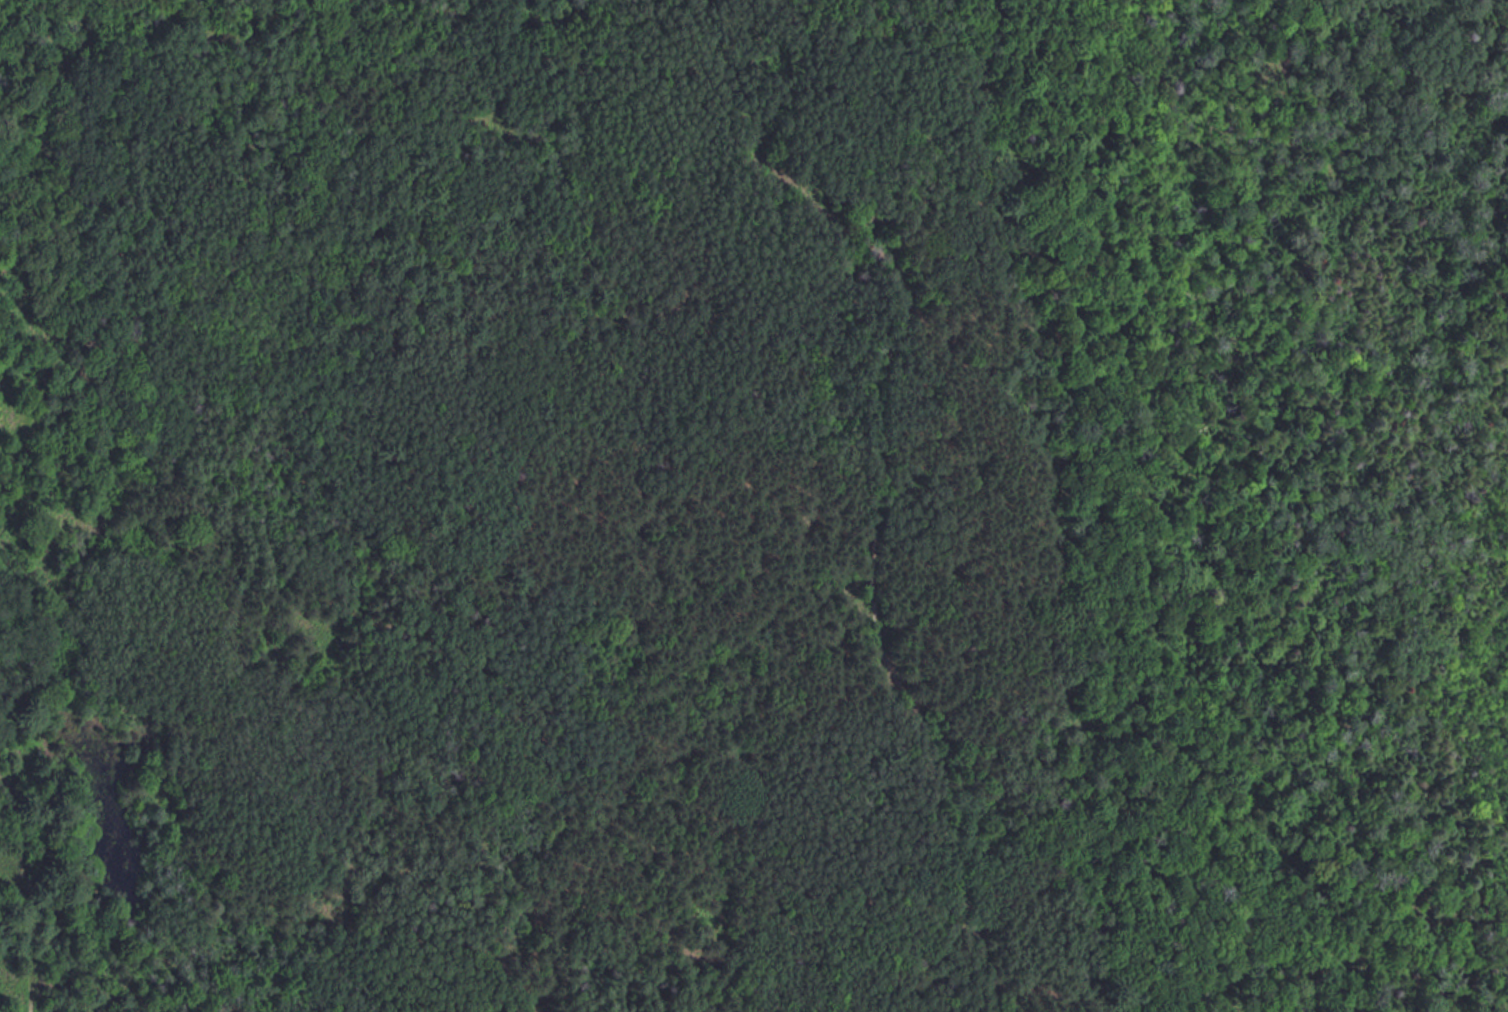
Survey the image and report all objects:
road: (859, 617)

